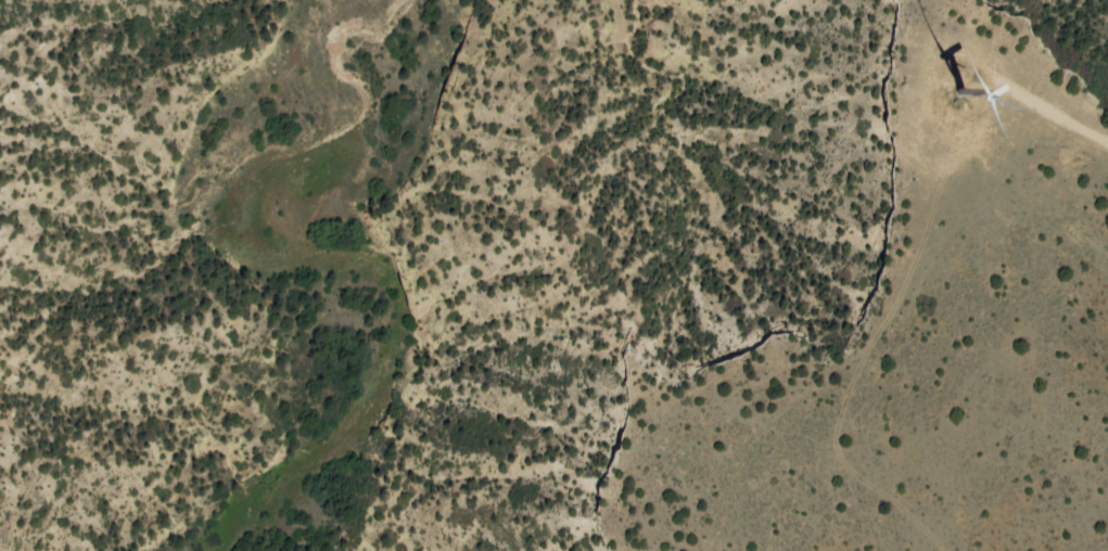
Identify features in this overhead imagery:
wind turbine: (961, 92)
road: (1060, 118)
road: (881, 326)

